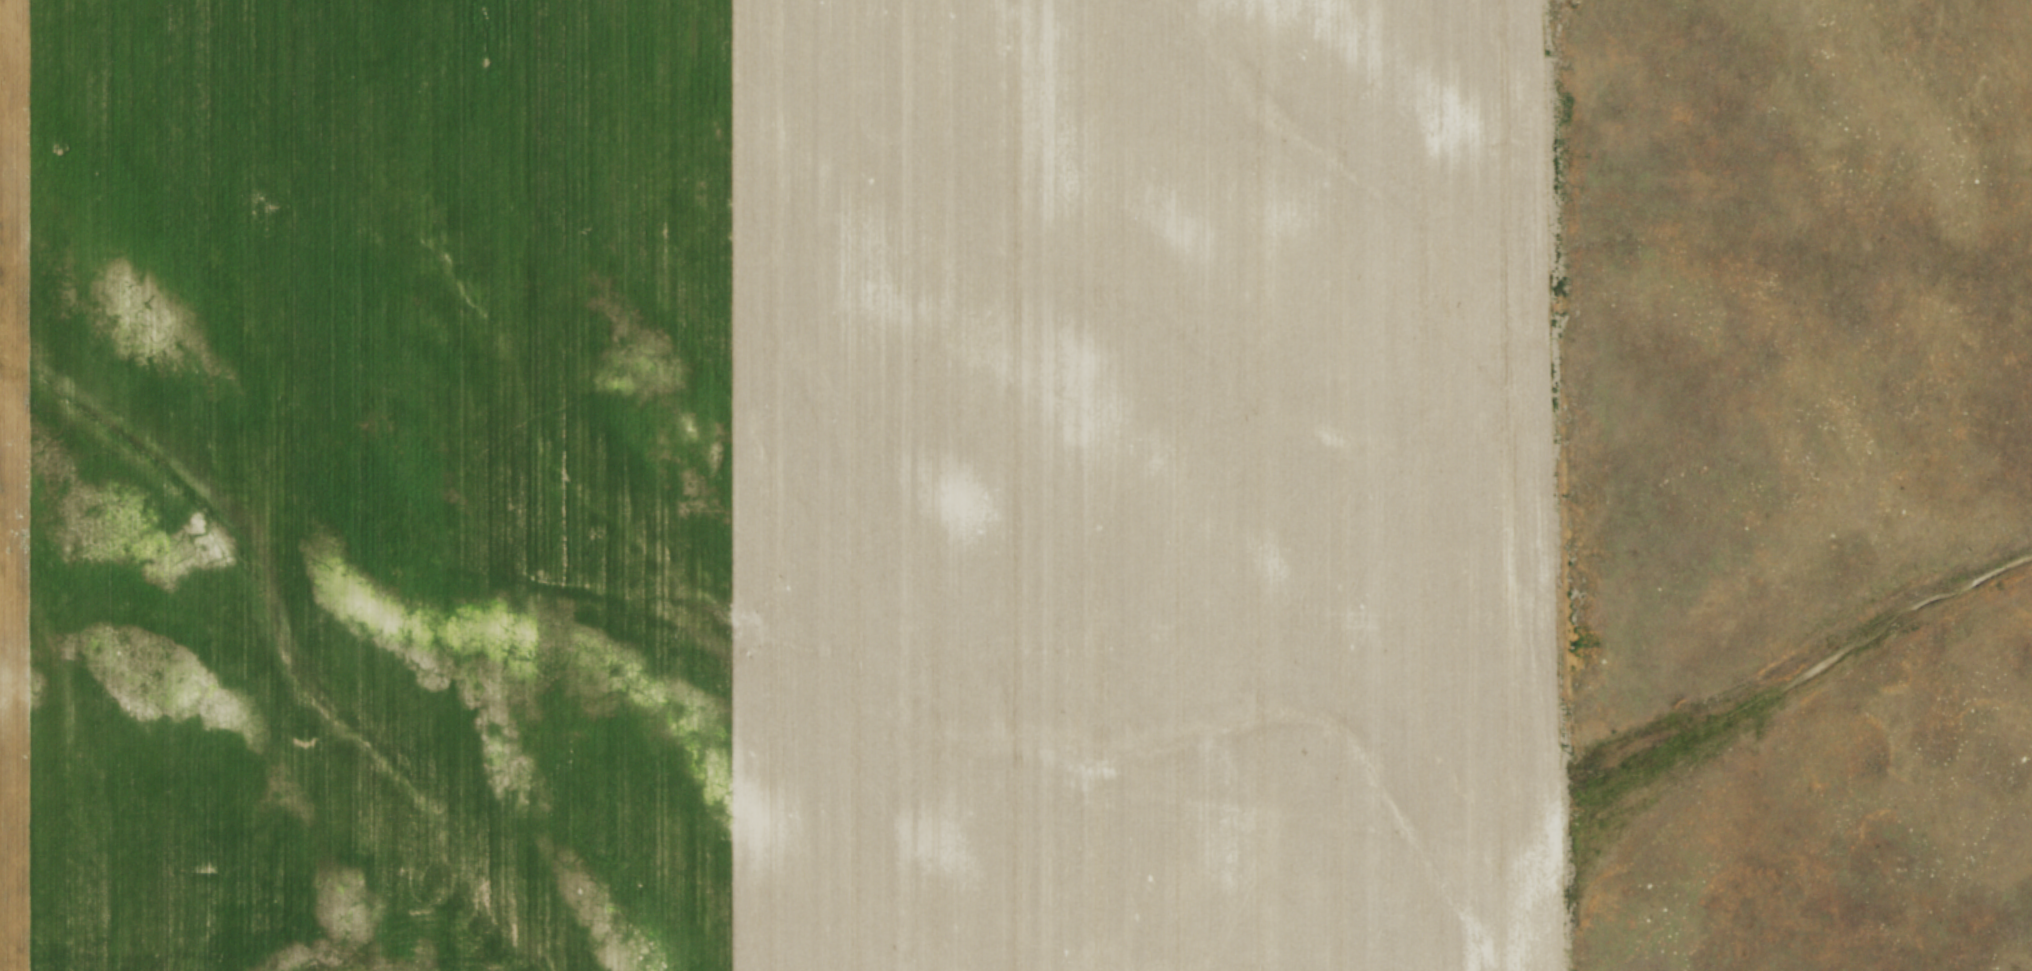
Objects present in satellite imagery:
crop: (772, 486)

